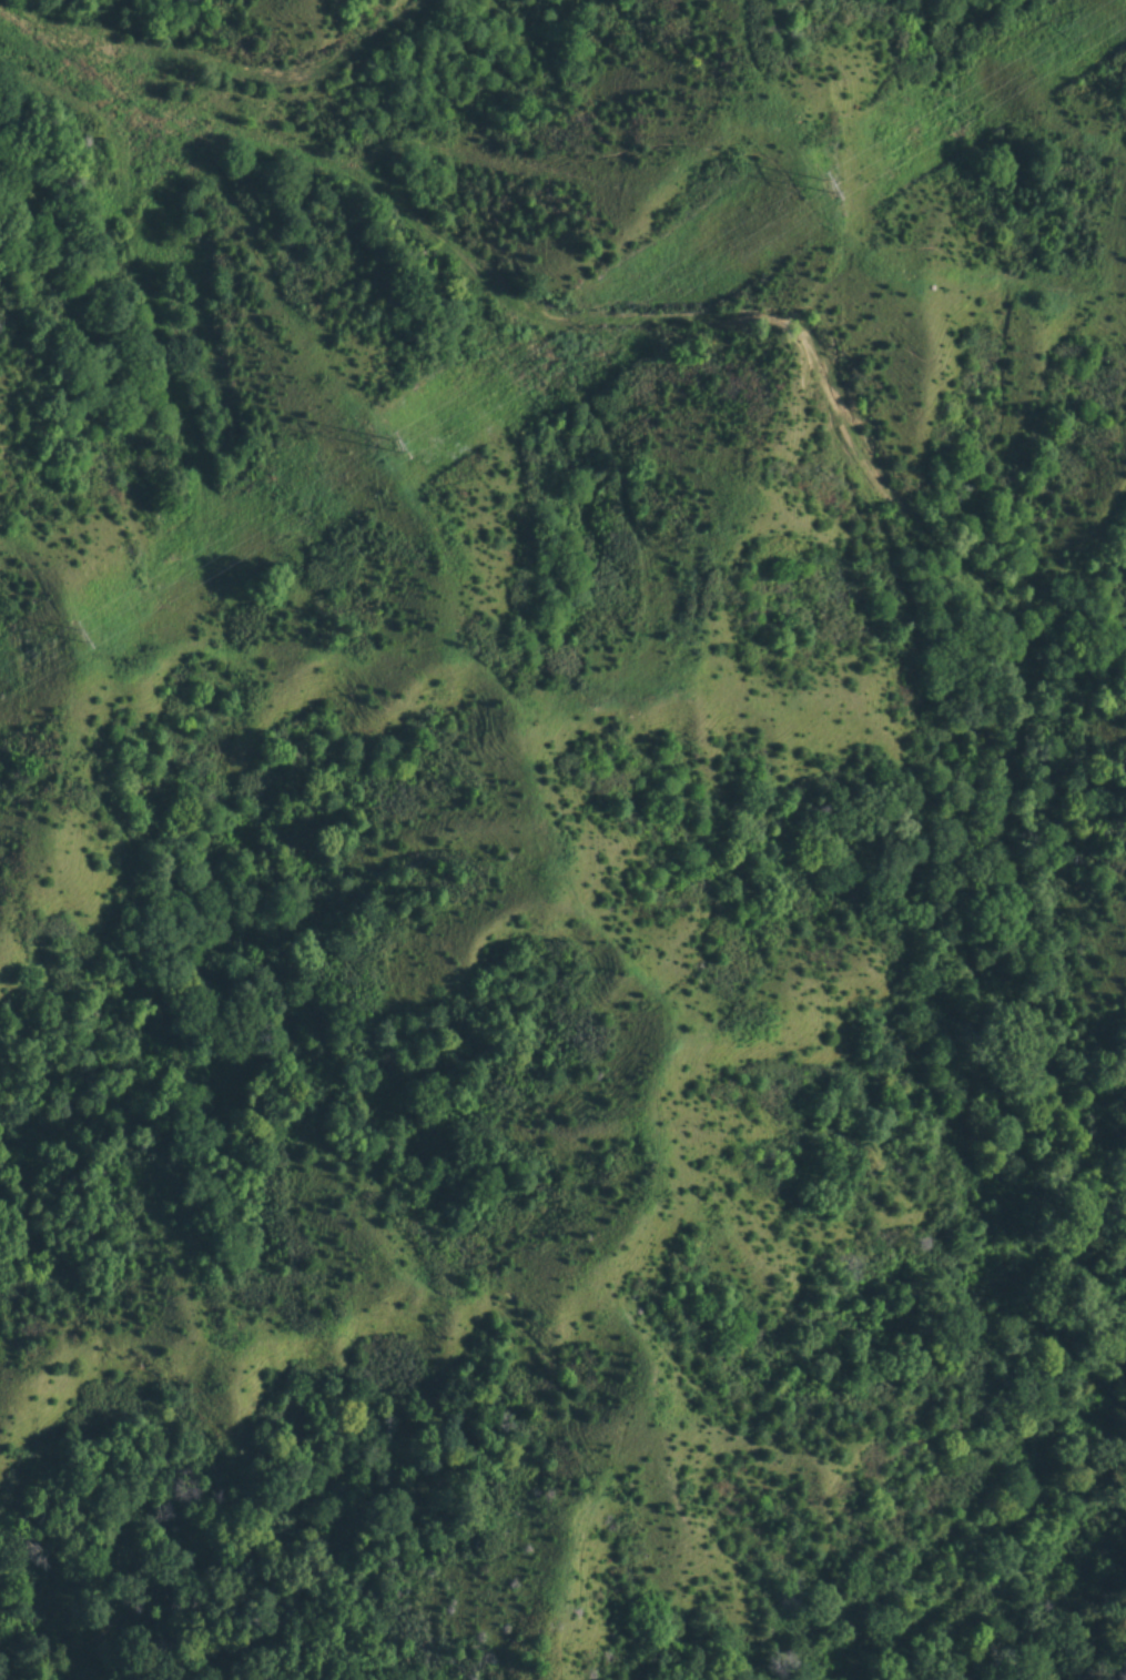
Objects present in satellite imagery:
power tower: (819, 191)
power tower: (397, 445)
power tower: (84, 636)

